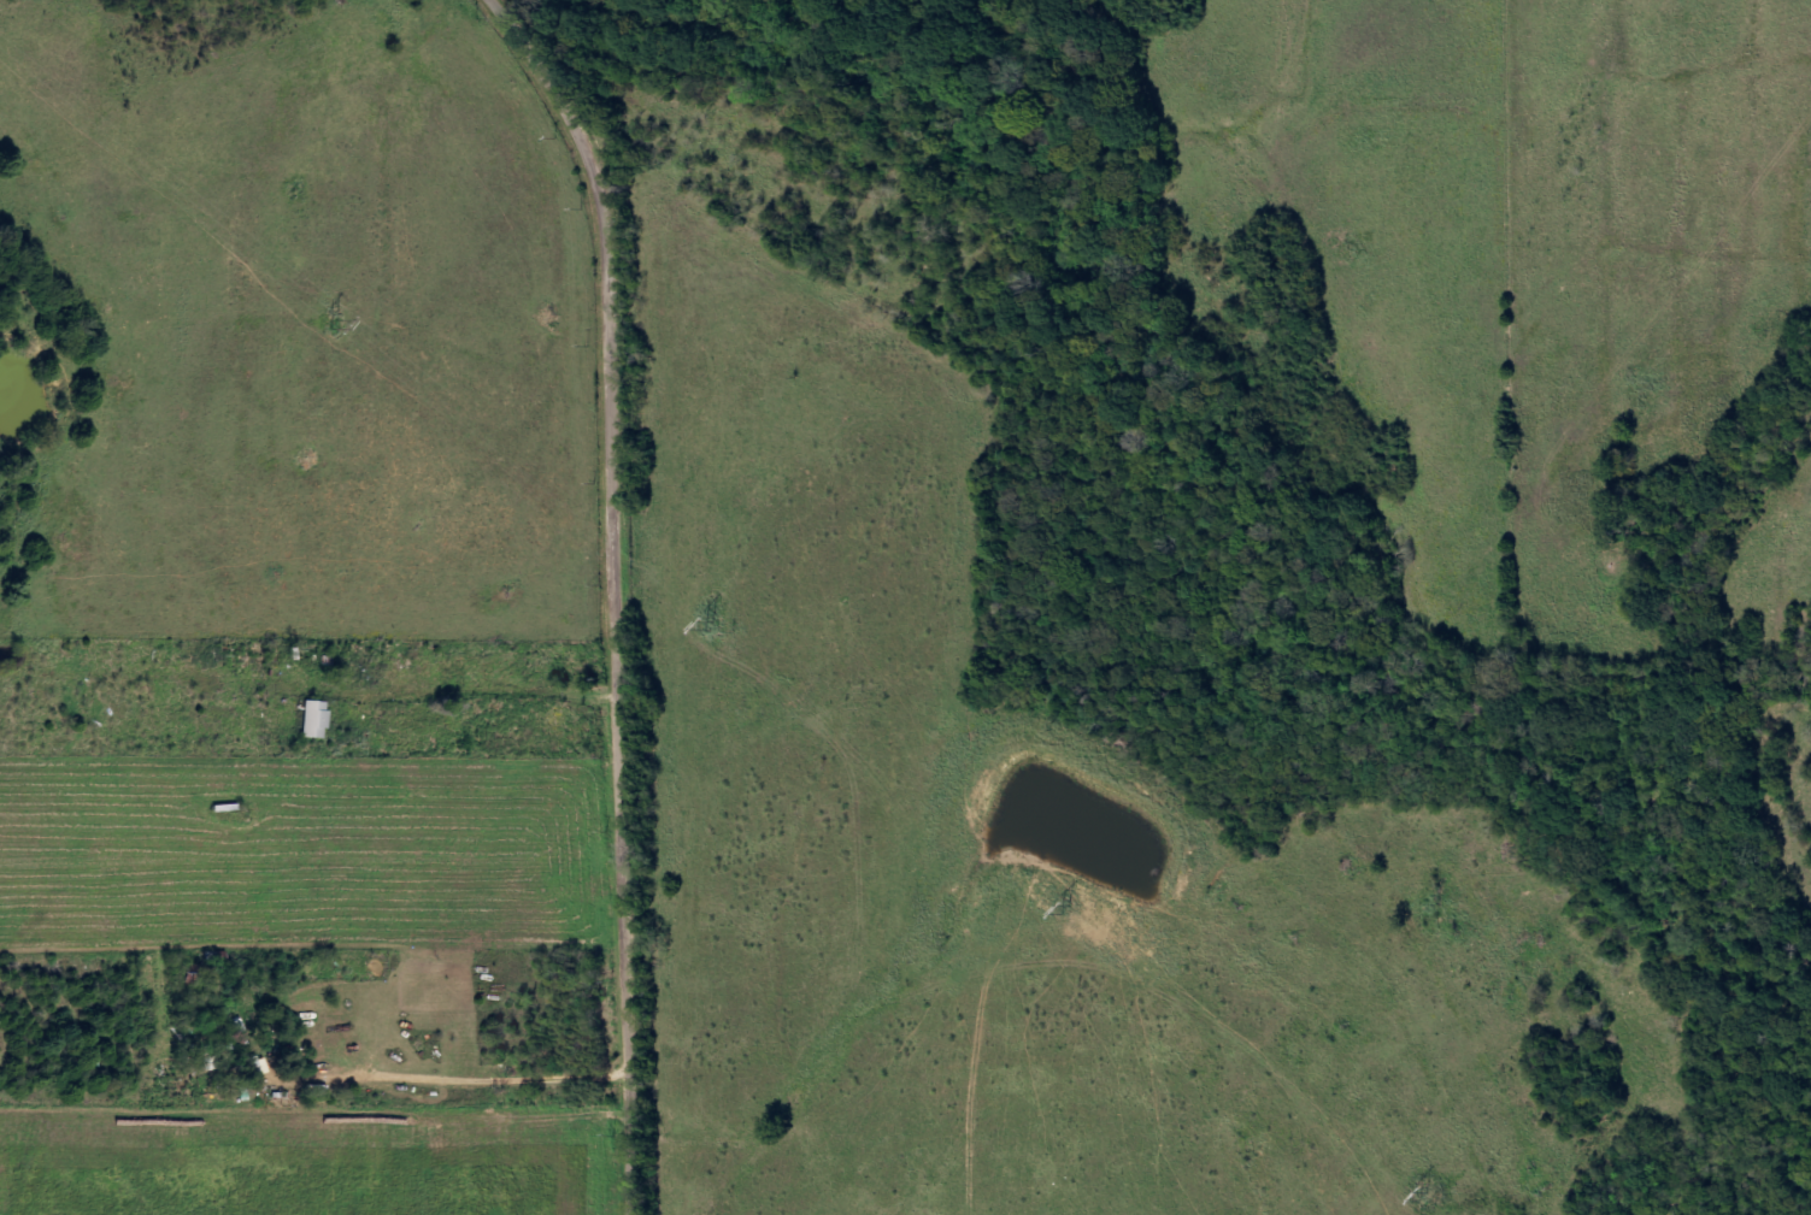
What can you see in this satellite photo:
power tower: (335, 325)
road: (575, 378)
power tower: (711, 626)
building: (317, 719)
power tower: (1066, 910)
road: (580, 1002)
power tower: (1425, 1197)

